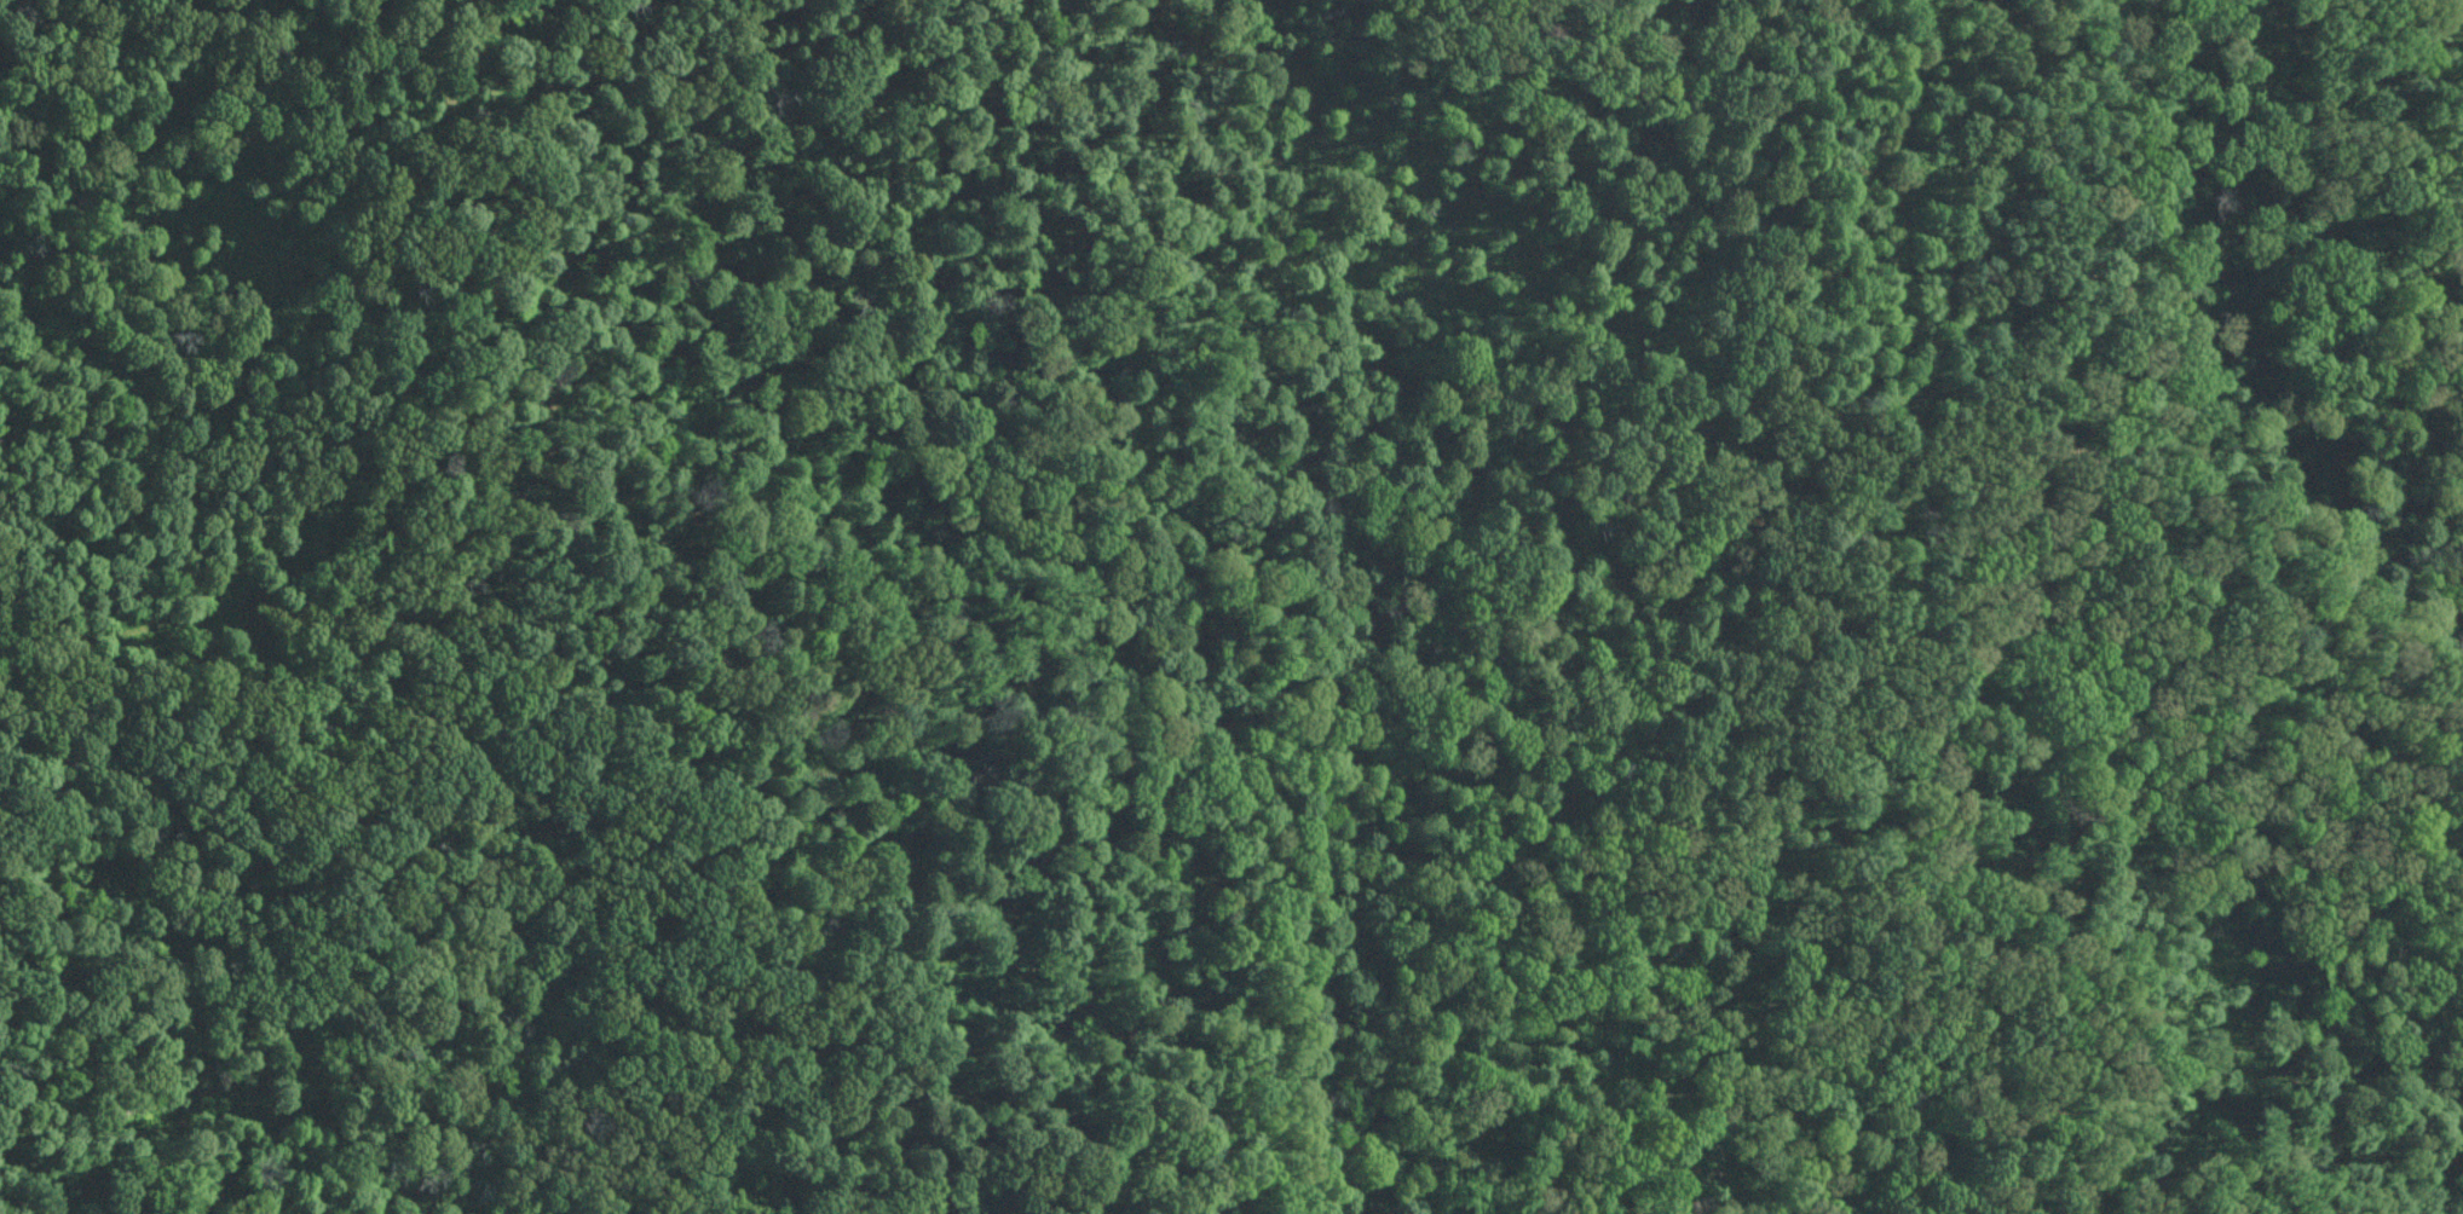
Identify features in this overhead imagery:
road: (1921, 686)

